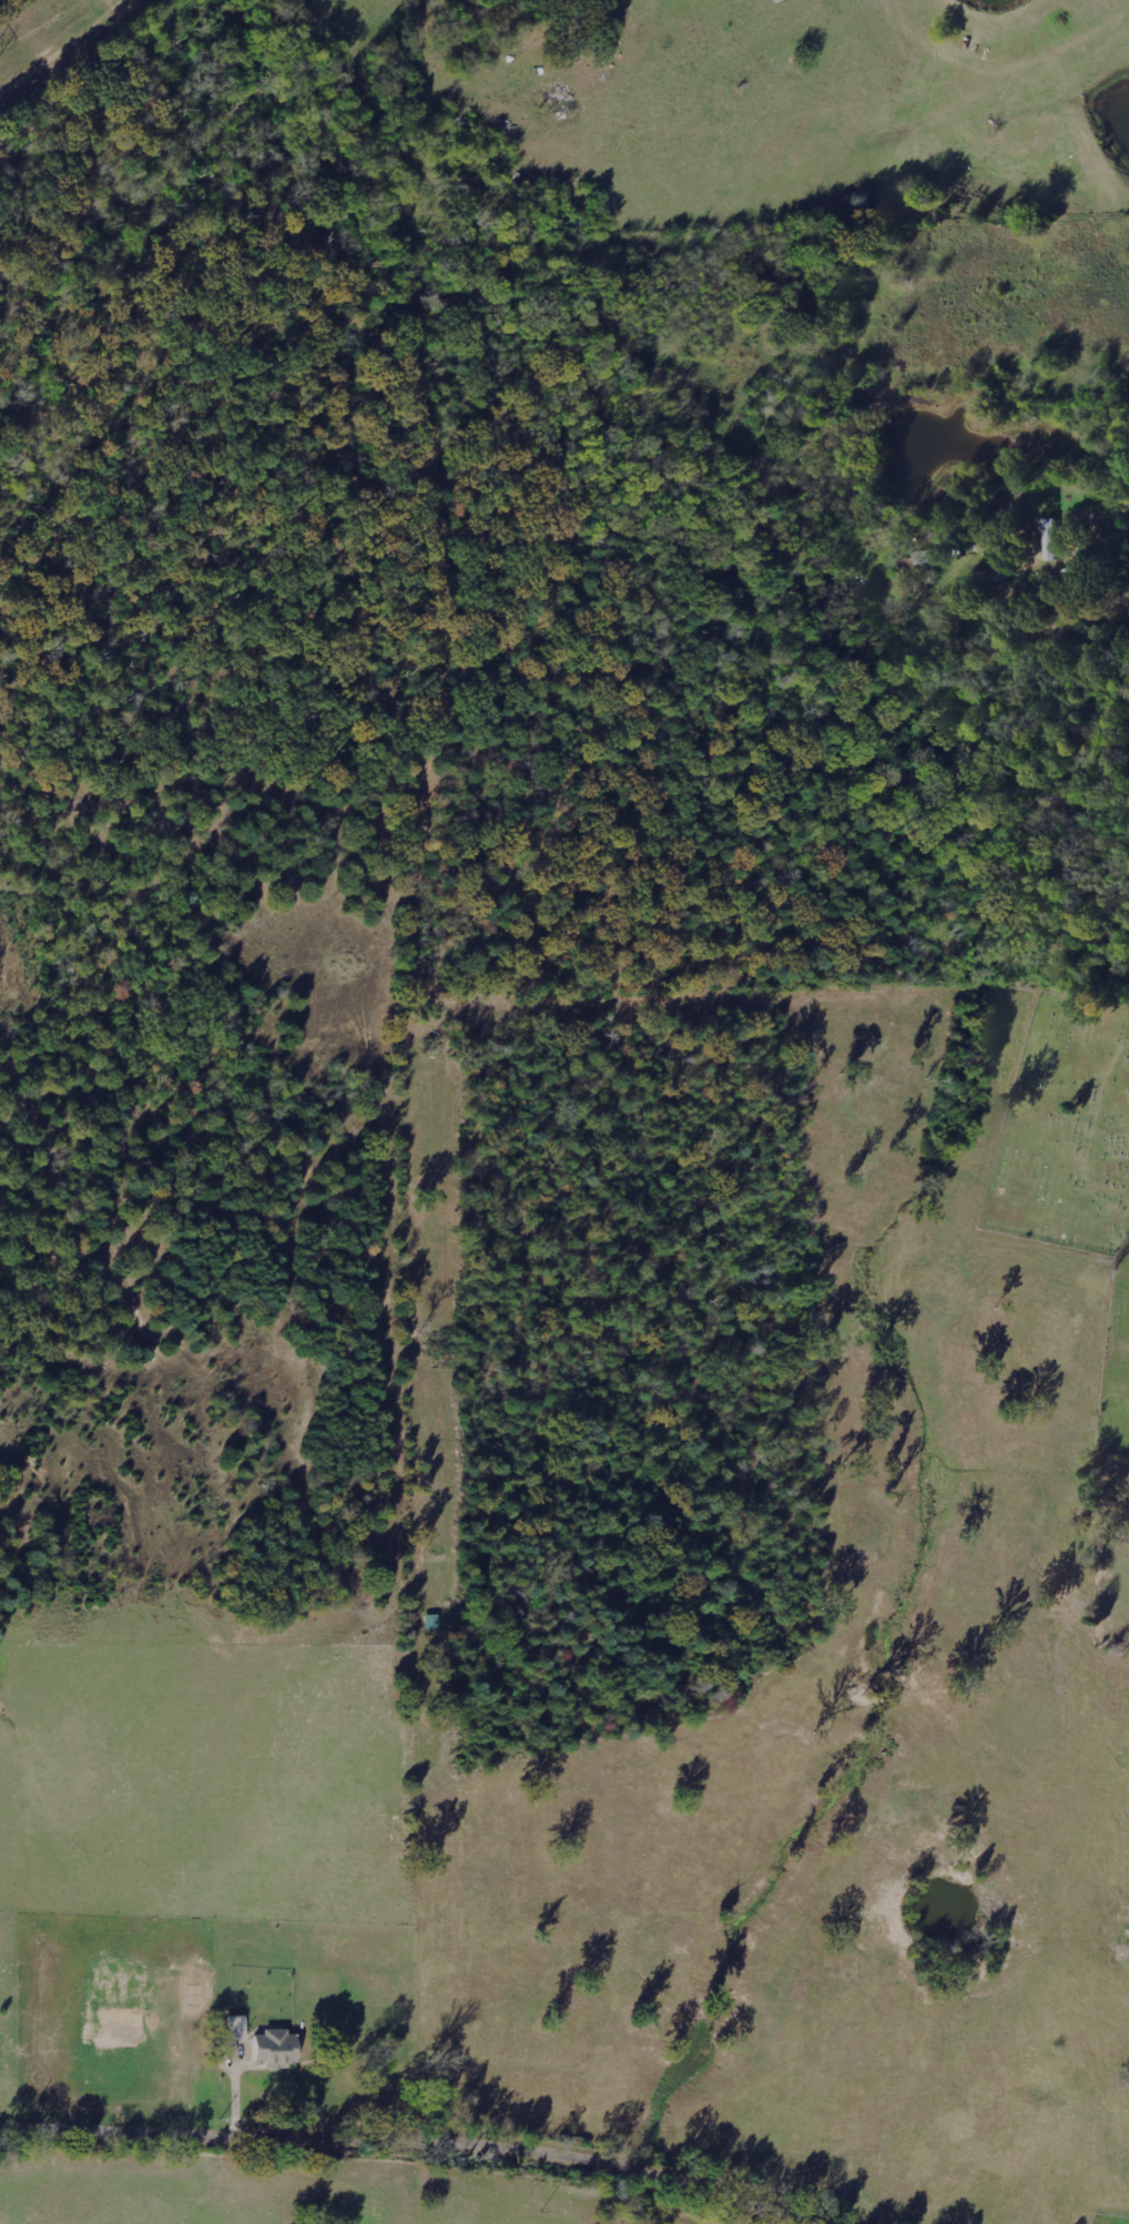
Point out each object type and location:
building: (1052, 539)
building: (237, 2029)
building: (275, 2049)
road: (411, 2142)

